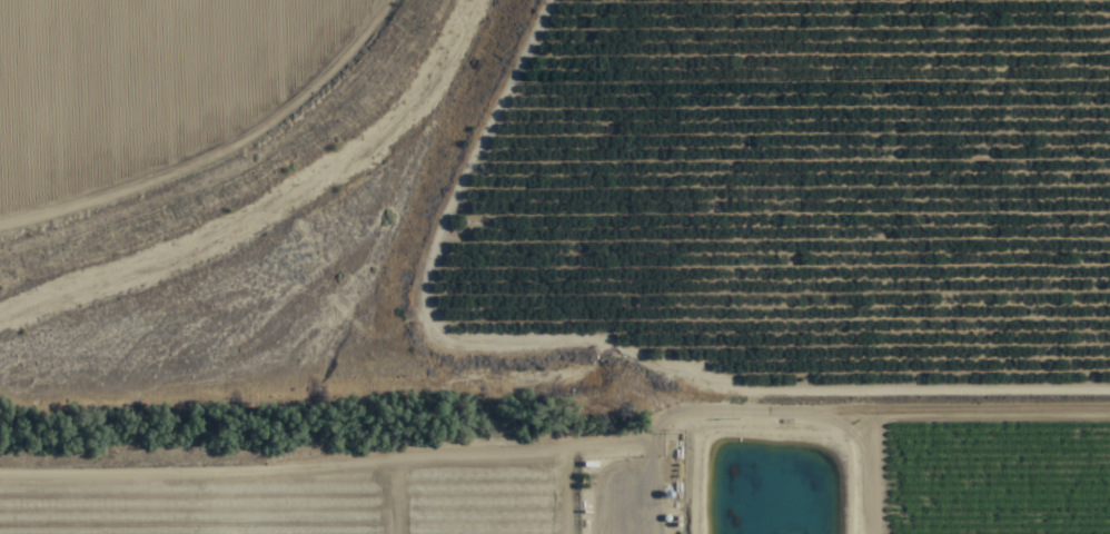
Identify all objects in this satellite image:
crop: (160, 77)
road: (341, 178)
crop: (824, 222)
road: (964, 379)
crop: (279, 483)
wastewater plant: (776, 493)

